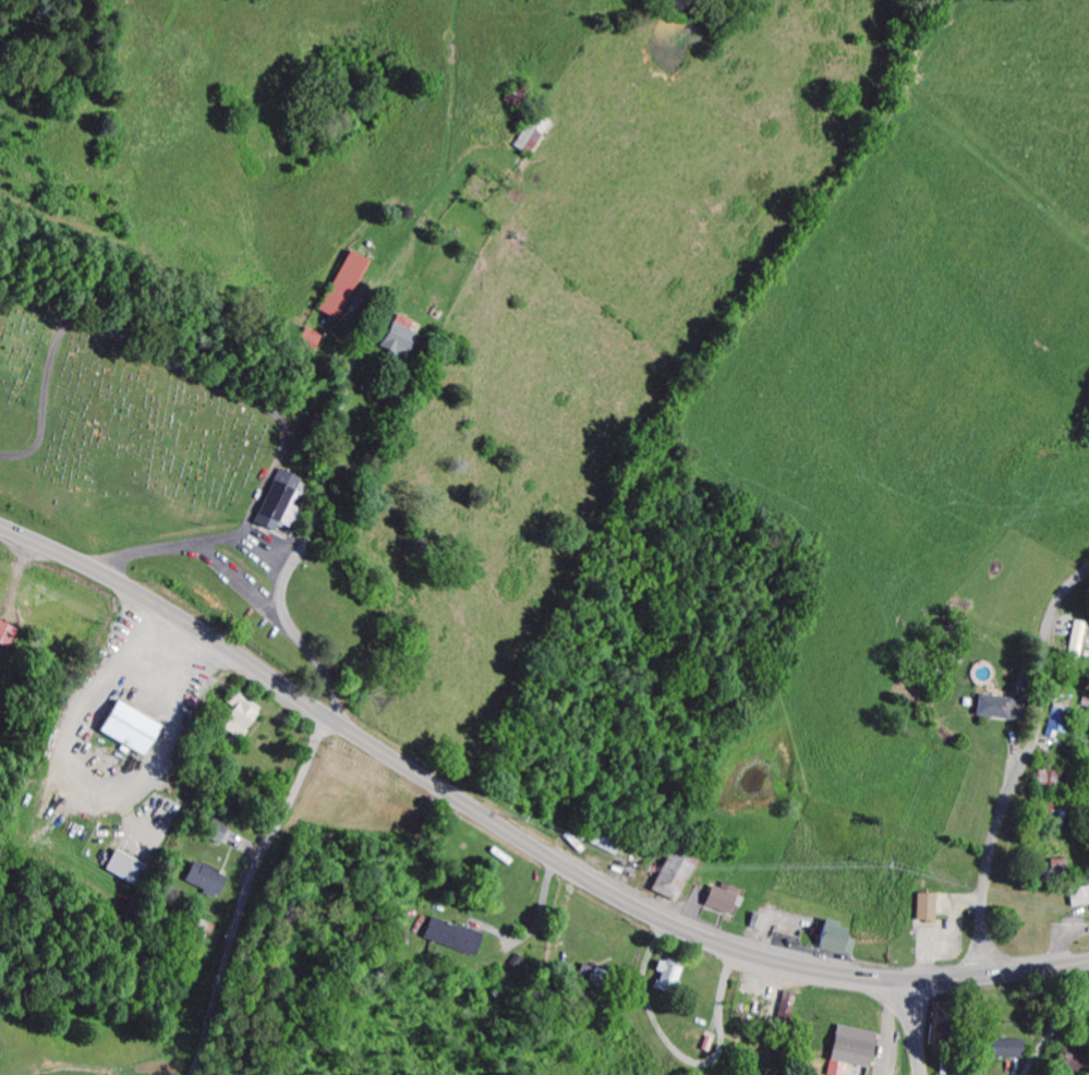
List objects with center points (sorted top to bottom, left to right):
building: (527, 135)
building: (344, 287)
building: (402, 340)
road: (227, 389)
road: (382, 397)
park: (119, 434)
building: (288, 500)
building: (8, 637)
building: (1069, 641)
building: (989, 710)
building: (243, 721)
building: (1052, 727)
building: (134, 730)
road: (1025, 771)
road: (516, 838)
building: (126, 871)
building: (664, 880)
building: (207, 881)
road: (249, 889)
building: (1075, 898)
building: (919, 910)
building: (826, 938)
building: (448, 940)
building: (662, 978)
road: (912, 1028)
road: (1051, 1037)
building: (844, 1051)
building: (994, 1052)

